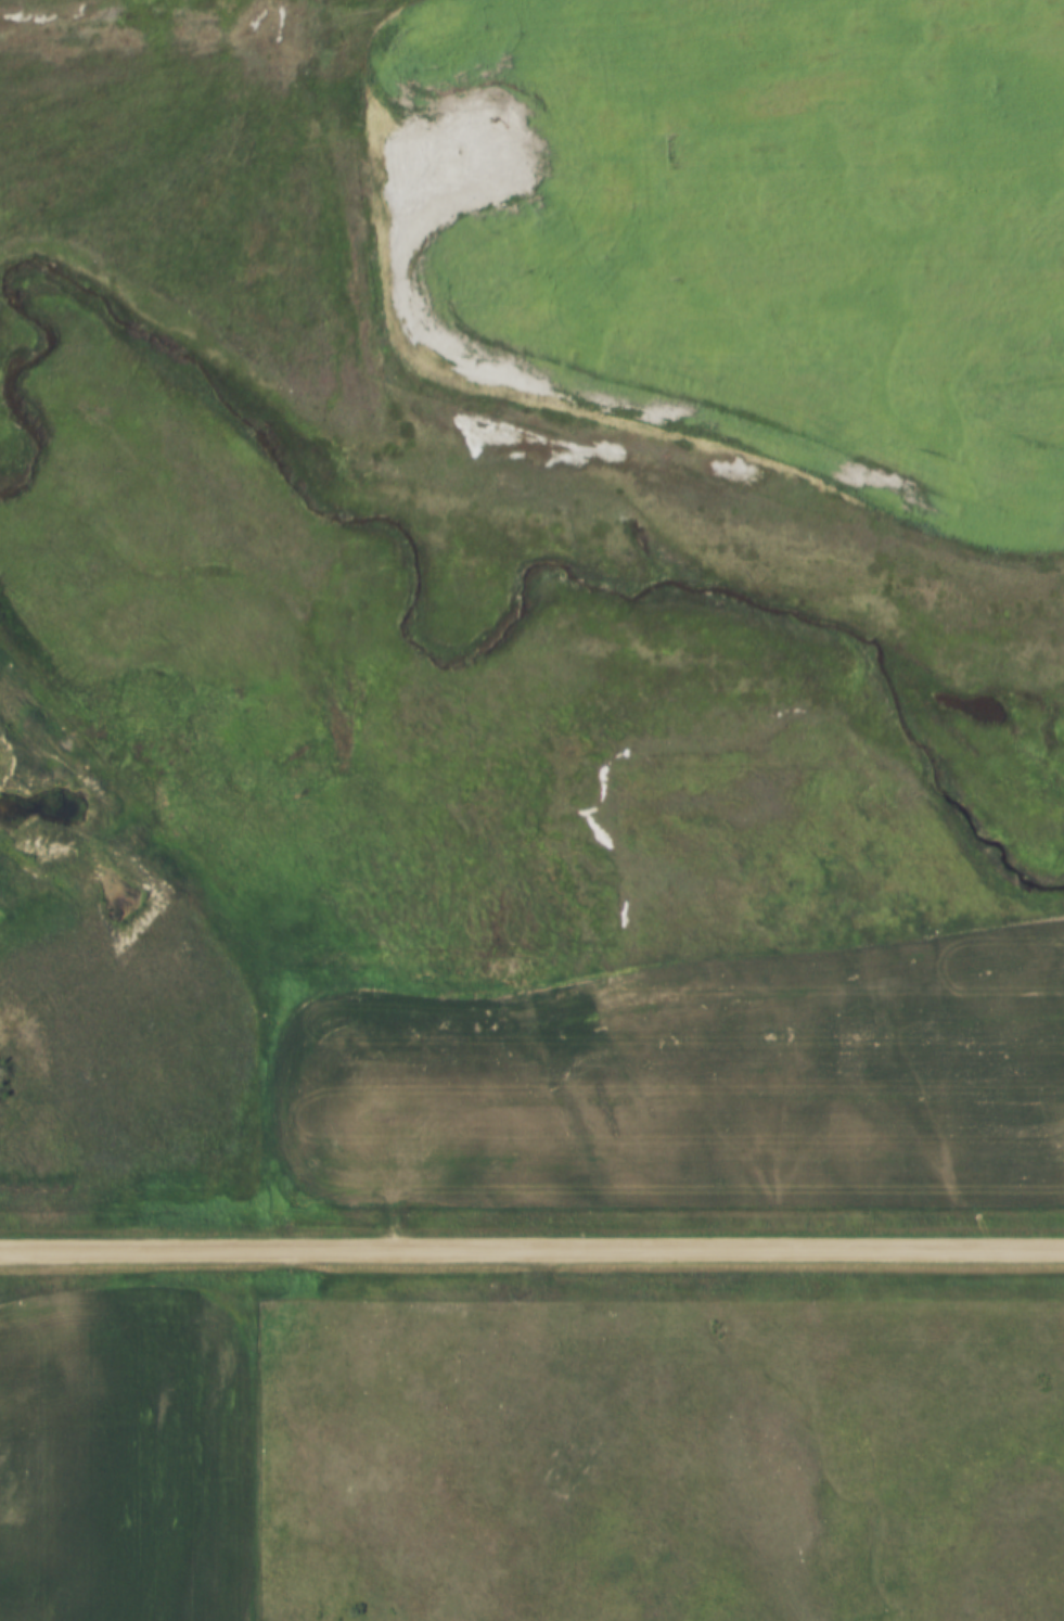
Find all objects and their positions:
road: (531, 1249)

